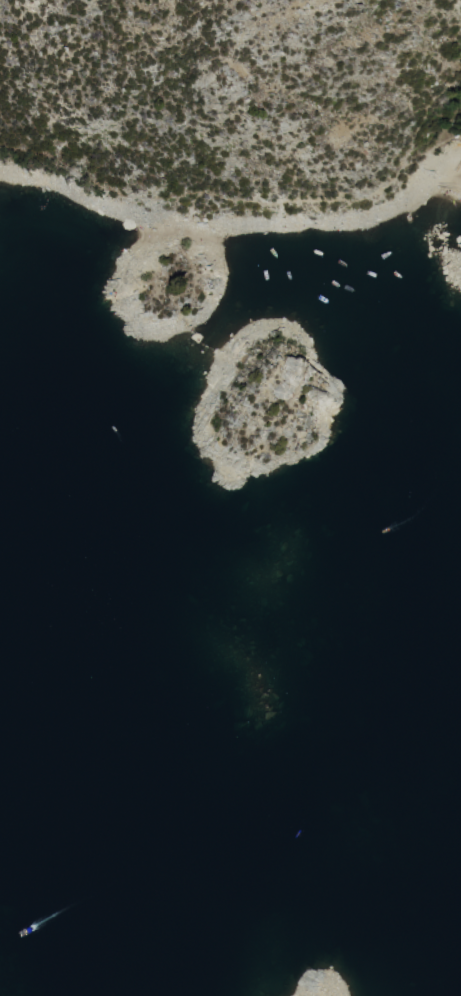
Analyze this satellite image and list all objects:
pier: (456, 162)
road: (257, 197)

